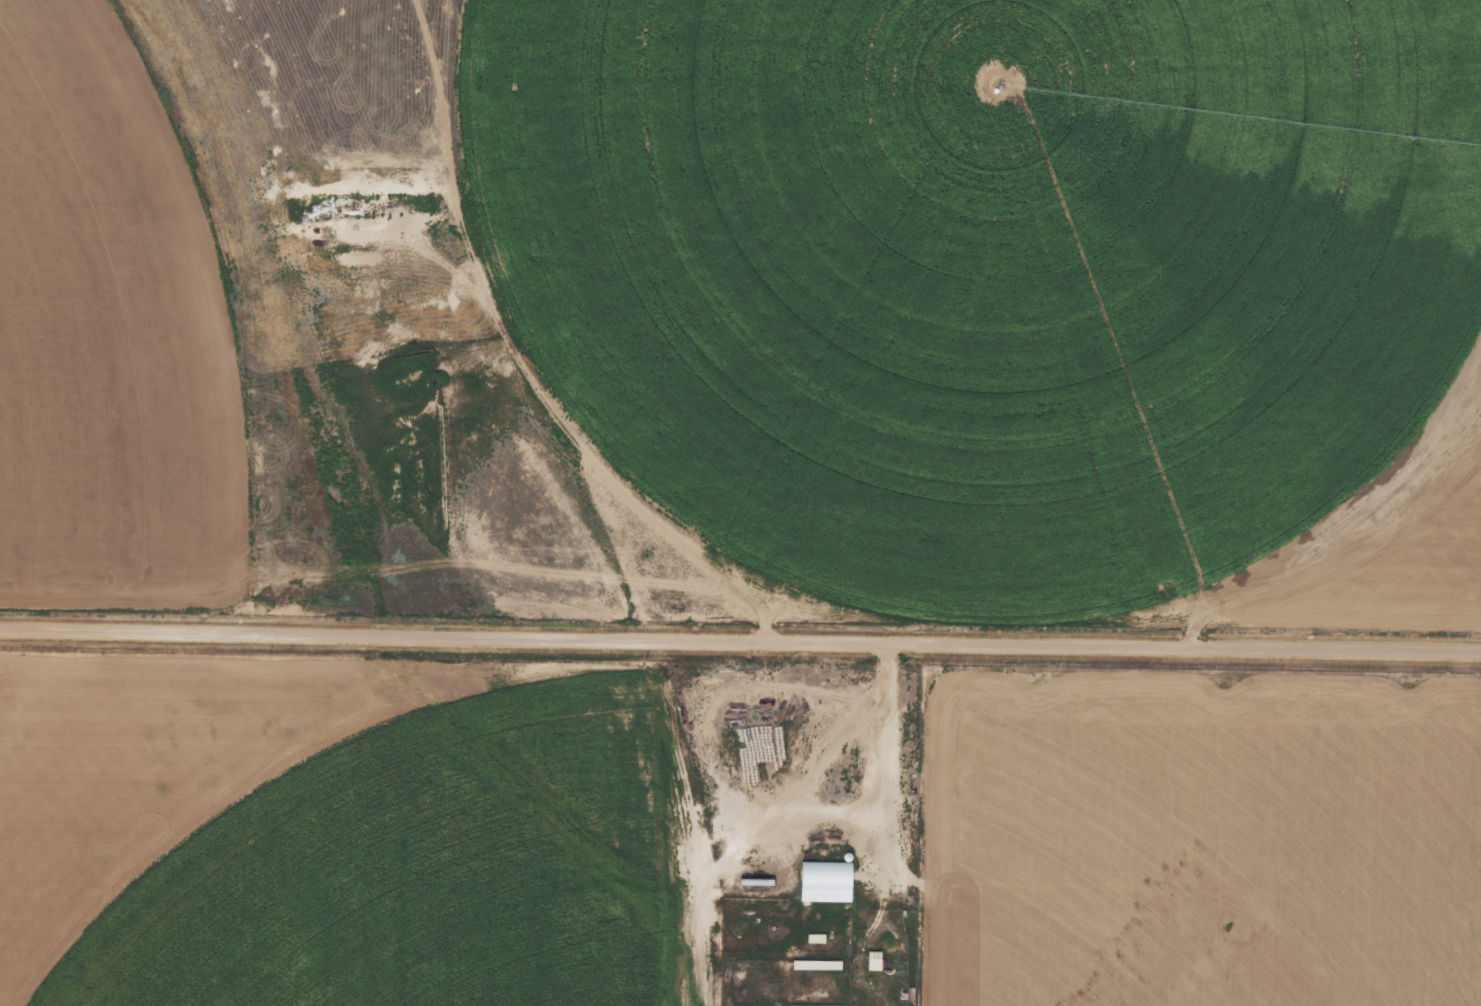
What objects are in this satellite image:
road: (740, 641)
crop: (734, 834)

